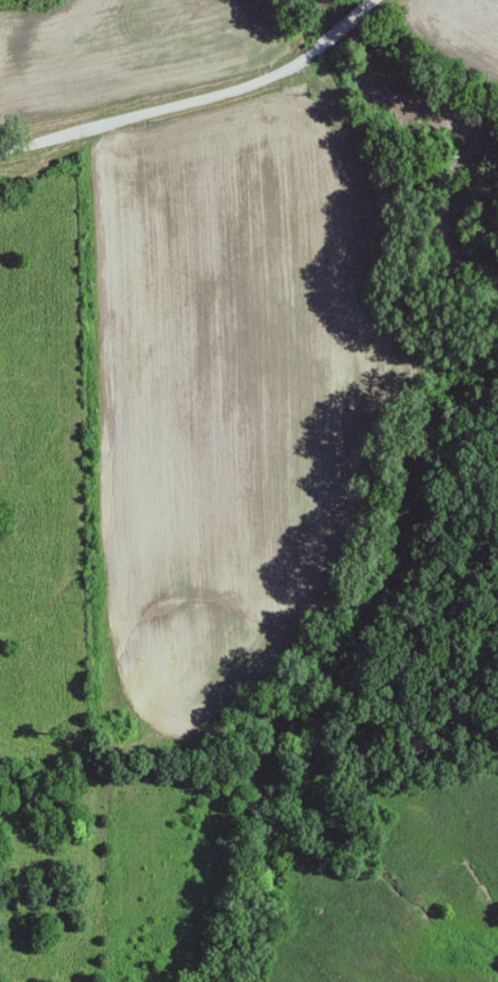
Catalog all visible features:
road: (197, 97)

